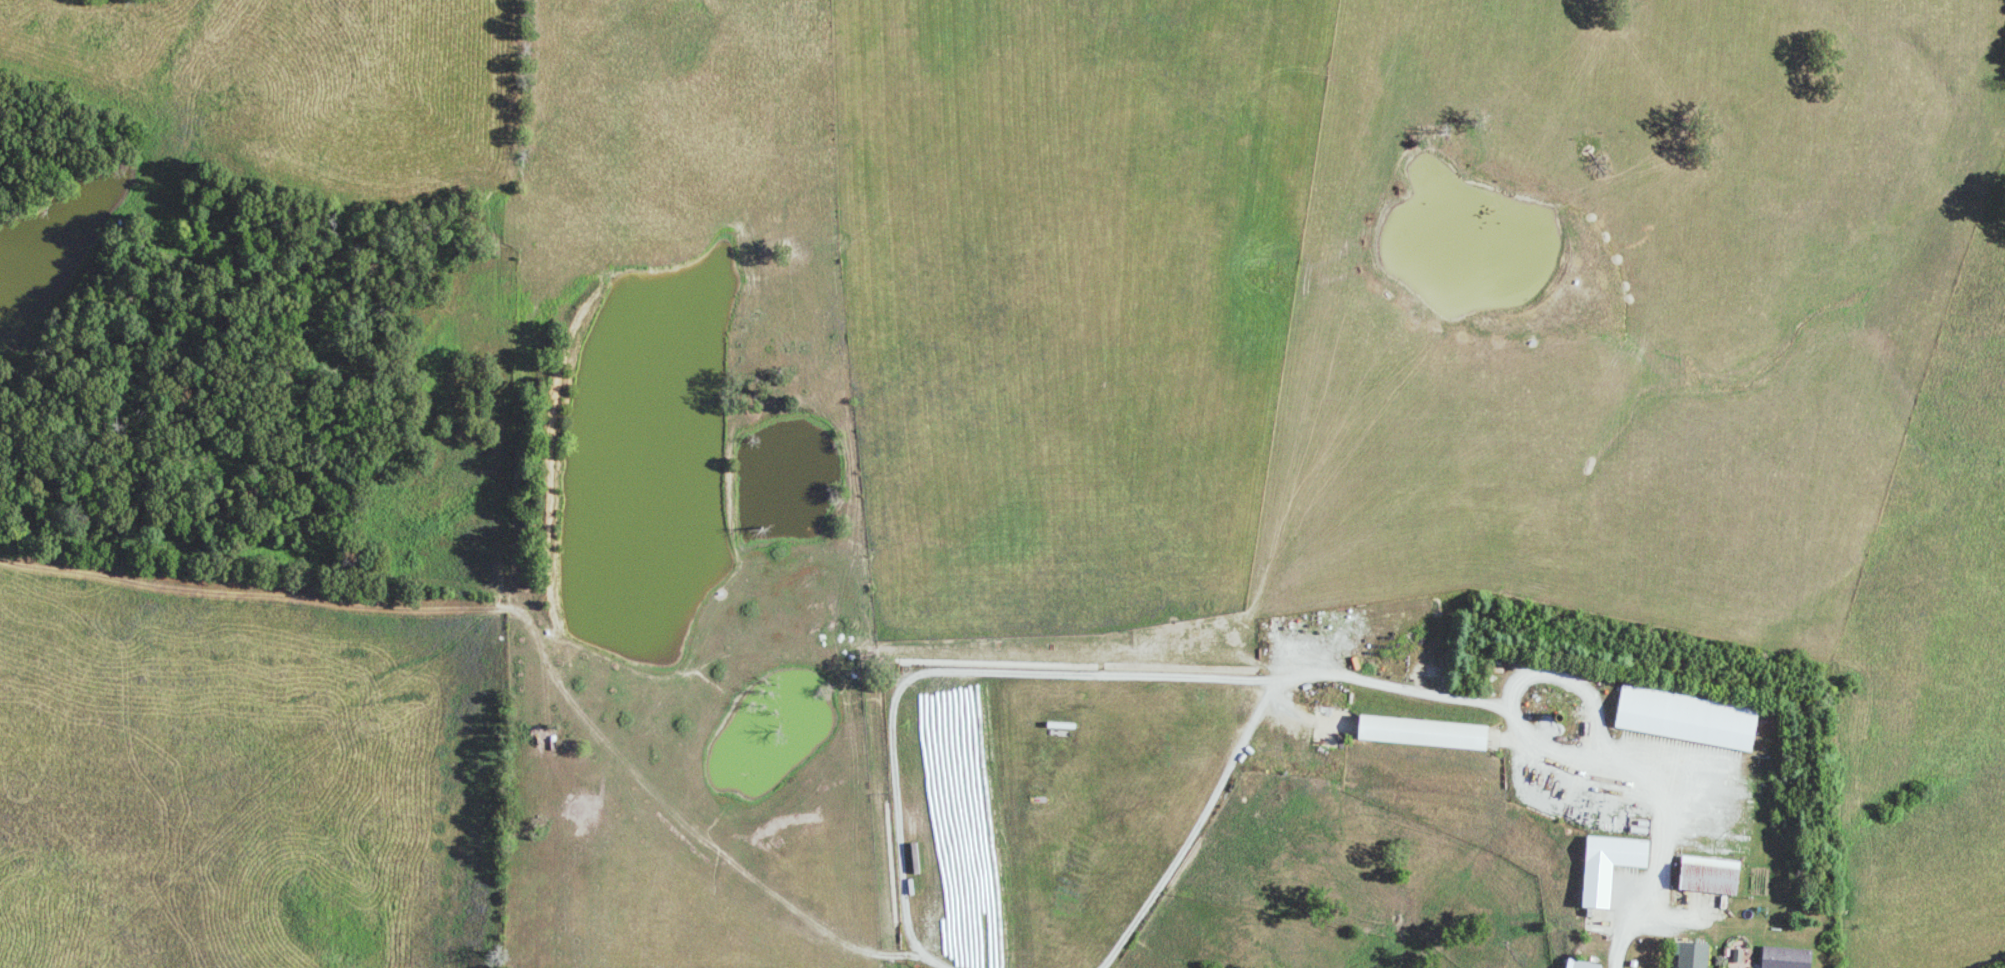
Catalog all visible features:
building: (1684, 719)
building: (1419, 733)
building: (1615, 852)
building: (1707, 876)
building: (1690, 955)
building: (1784, 958)
building: (1578, 964)

